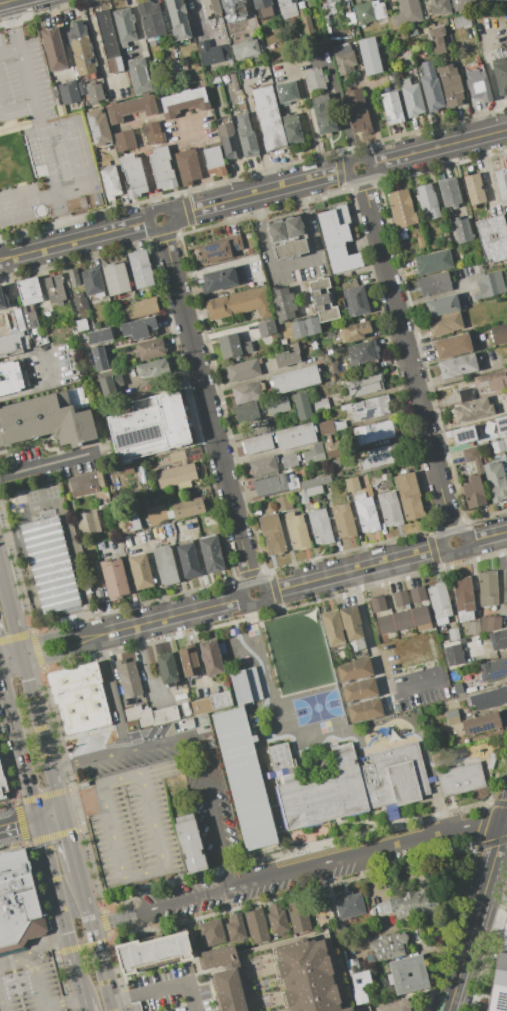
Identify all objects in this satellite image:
road: (6, 1)
building: (490, 1)
building: (463, 4)
building: (333, 6)
building: (439, 7)
building: (286, 8)
building: (263, 9)
building: (378, 10)
building: (363, 13)
building: (407, 13)
building: (235, 15)
building: (150, 19)
building: (177, 19)
building: (461, 21)
building: (214, 22)
building: (306, 24)
road: (12, 26)
building: (124, 26)
building: (437, 39)
building: (109, 41)
building: (53, 48)
building: (245, 48)
building: (80, 49)
road: (97, 49)
building: (212, 52)
road: (9, 53)
building: (273, 54)
building: (370, 55)
building: (344, 58)
road: (306, 68)
building: (500, 74)
building: (138, 75)
road: (25, 77)
building: (315, 80)
building: (234, 81)
building: (404, 82)
building: (450, 84)
building: (80, 85)
building: (430, 86)
building: (477, 86)
building: (286, 91)
building: (68, 92)
building: (94, 95)
building: (412, 100)
building: (183, 101)
building: (241, 106)
building: (131, 107)
building: (392, 107)
road: (15, 108)
building: (60, 110)
building: (357, 111)
building: (323, 114)
building: (268, 117)
road: (185, 120)
road: (252, 122)
building: (98, 127)
building: (292, 127)
building: (153, 132)
parking lot: (47, 133)
building: (246, 137)
building: (124, 140)
building: (228, 141)
road: (437, 146)
road: (44, 150)
road: (77, 153)
road: (506, 155)
building: (213, 161)
road: (199, 162)
road: (368, 162)
building: (187, 167)
building: (162, 168)
road: (484, 174)
building: (133, 175)
building: (110, 181)
building: (501, 182)
building: (90, 186)
building: (84, 187)
building: (473, 188)
building: (449, 192)
road: (258, 193)
building: (427, 200)
park: (18, 205)
building: (401, 209)
road: (169, 213)
road: (61, 219)
building: (294, 226)
building: (276, 230)
building: (462, 231)
building: (492, 237)
road: (77, 239)
building: (336, 243)
building: (290, 249)
building: (215, 251)
road: (3, 257)
road: (3, 259)
building: (432, 262)
road: (221, 263)
road: (293, 267)
building: (140, 269)
building: (73, 277)
building: (115, 279)
building: (219, 279)
building: (93, 282)
building: (492, 283)
building: (433, 284)
building: (55, 289)
building: (29, 291)
road: (438, 294)
building: (2, 297)
building: (322, 299)
building: (79, 301)
building: (356, 301)
building: (241, 303)
building: (283, 304)
building: (441, 306)
building: (140, 309)
building: (30, 320)
building: (445, 324)
building: (81, 325)
building: (305, 327)
building: (139, 328)
building: (266, 328)
building: (355, 331)
building: (498, 333)
building: (14, 335)
building: (100, 336)
building: (283, 342)
building: (232, 346)
building: (453, 346)
building: (150, 349)
building: (363, 352)
road: (406, 355)
road: (9, 357)
building: (287, 357)
building: (99, 358)
parking lot: (48, 365)
building: (457, 366)
building: (153, 368)
building: (243, 370)
road: (461, 374)
building: (9, 377)
building: (294, 379)
building: (492, 380)
building: (109, 382)
building: (365, 384)
road: (42, 385)
building: (247, 392)
building: (467, 395)
building: (505, 395)
building: (321, 404)
road: (206, 405)
building: (277, 405)
building: (302, 405)
building: (369, 408)
building: (472, 410)
building: (248, 412)
building: (42, 416)
building: (147, 426)
building: (331, 426)
building: (501, 426)
building: (488, 427)
building: (374, 431)
building: (464, 435)
building: (295, 436)
building: (258, 444)
building: (504, 444)
building: (497, 446)
building: (330, 447)
building: (312, 456)
building: (382, 456)
building: (472, 458)
building: (289, 461)
road: (48, 462)
building: (263, 467)
building: (336, 470)
building: (176, 473)
building: (374, 478)
building: (495, 481)
building: (315, 482)
building: (85, 484)
building: (274, 484)
building: (352, 484)
building: (474, 492)
building: (309, 493)
building: (409, 496)
road: (59, 502)
building: (186, 509)
building: (389, 509)
building: (161, 511)
building: (365, 513)
building: (343, 521)
building: (88, 523)
building: (131, 523)
building: (320, 527)
building: (168, 531)
building: (297, 531)
building: (272, 534)
road: (487, 536)
road: (466, 547)
building: (210, 553)
building: (188, 561)
building: (45, 562)
building: (165, 566)
road: (354, 569)
building: (140, 572)
building: (114, 577)
building: (505, 587)
building: (487, 589)
building: (417, 594)
building: (99, 596)
road: (266, 596)
building: (400, 598)
building: (463, 598)
building: (439, 603)
building: (377, 604)
road: (9, 609)
building: (420, 615)
road: (174, 616)
building: (403, 619)
building: (489, 623)
building: (385, 624)
building: (352, 625)
building: (332, 627)
building: (473, 628)
building: (454, 634)
road: (61, 635)
building: (443, 639)
building: (498, 639)
traffic signals: (18, 645)
road: (9, 652)
road: (66, 653)
road: (197, 653)
road: (20, 654)
building: (453, 655)
road: (481, 655)
road: (373, 657)
building: (210, 658)
building: (189, 661)
road: (11, 663)
traffic signals: (23, 664)
building: (167, 669)
building: (493, 669)
building: (354, 670)
road: (147, 672)
building: (128, 678)
building: (245, 686)
building: (359, 690)
building: (457, 690)
building: (446, 692)
road: (112, 696)
building: (78, 697)
building: (489, 698)
building: (220, 700)
building: (201, 706)
building: (364, 710)
building: (151, 715)
building: (452, 717)
building: (481, 723)
road: (42, 738)
road: (193, 741)
road: (19, 744)
building: (491, 761)
road: (157, 769)
building: (244, 777)
building: (460, 779)
building: (348, 783)
building: (2, 787)
road: (80, 799)
traffic signals: (61, 813)
traffic signals: (39, 819)
road: (30, 821)
parking lot: (215, 821)
road: (506, 822)
parking lot: (132, 826)
building: (188, 846)
road: (71, 851)
road: (163, 856)
road: (48, 858)
road: (296, 871)
road: (69, 894)
building: (20, 903)
building: (349, 904)
building: (408, 904)
road: (85, 909)
park: (318, 910)
road: (477, 913)
building: (298, 915)
road: (63, 917)
building: (277, 918)
building: (256, 926)
building: (235, 927)
building: (212, 931)
building: (503, 939)
road: (83, 946)
building: (387, 948)
road: (34, 951)
building: (152, 952)
road: (76, 968)
road: (100, 969)
building: (307, 976)
building: (396, 976)
building: (226, 978)
parking lot: (29, 982)
building: (359, 982)
road: (36, 983)
building: (499, 985)
road: (163, 987)
parking lot: (169, 990)
road: (63, 1001)
road: (1, 1006)
road: (86, 1006)
building: (140, 1006)
building: (395, 1006)
road: (43, 1009)
building: (162, 1010)

